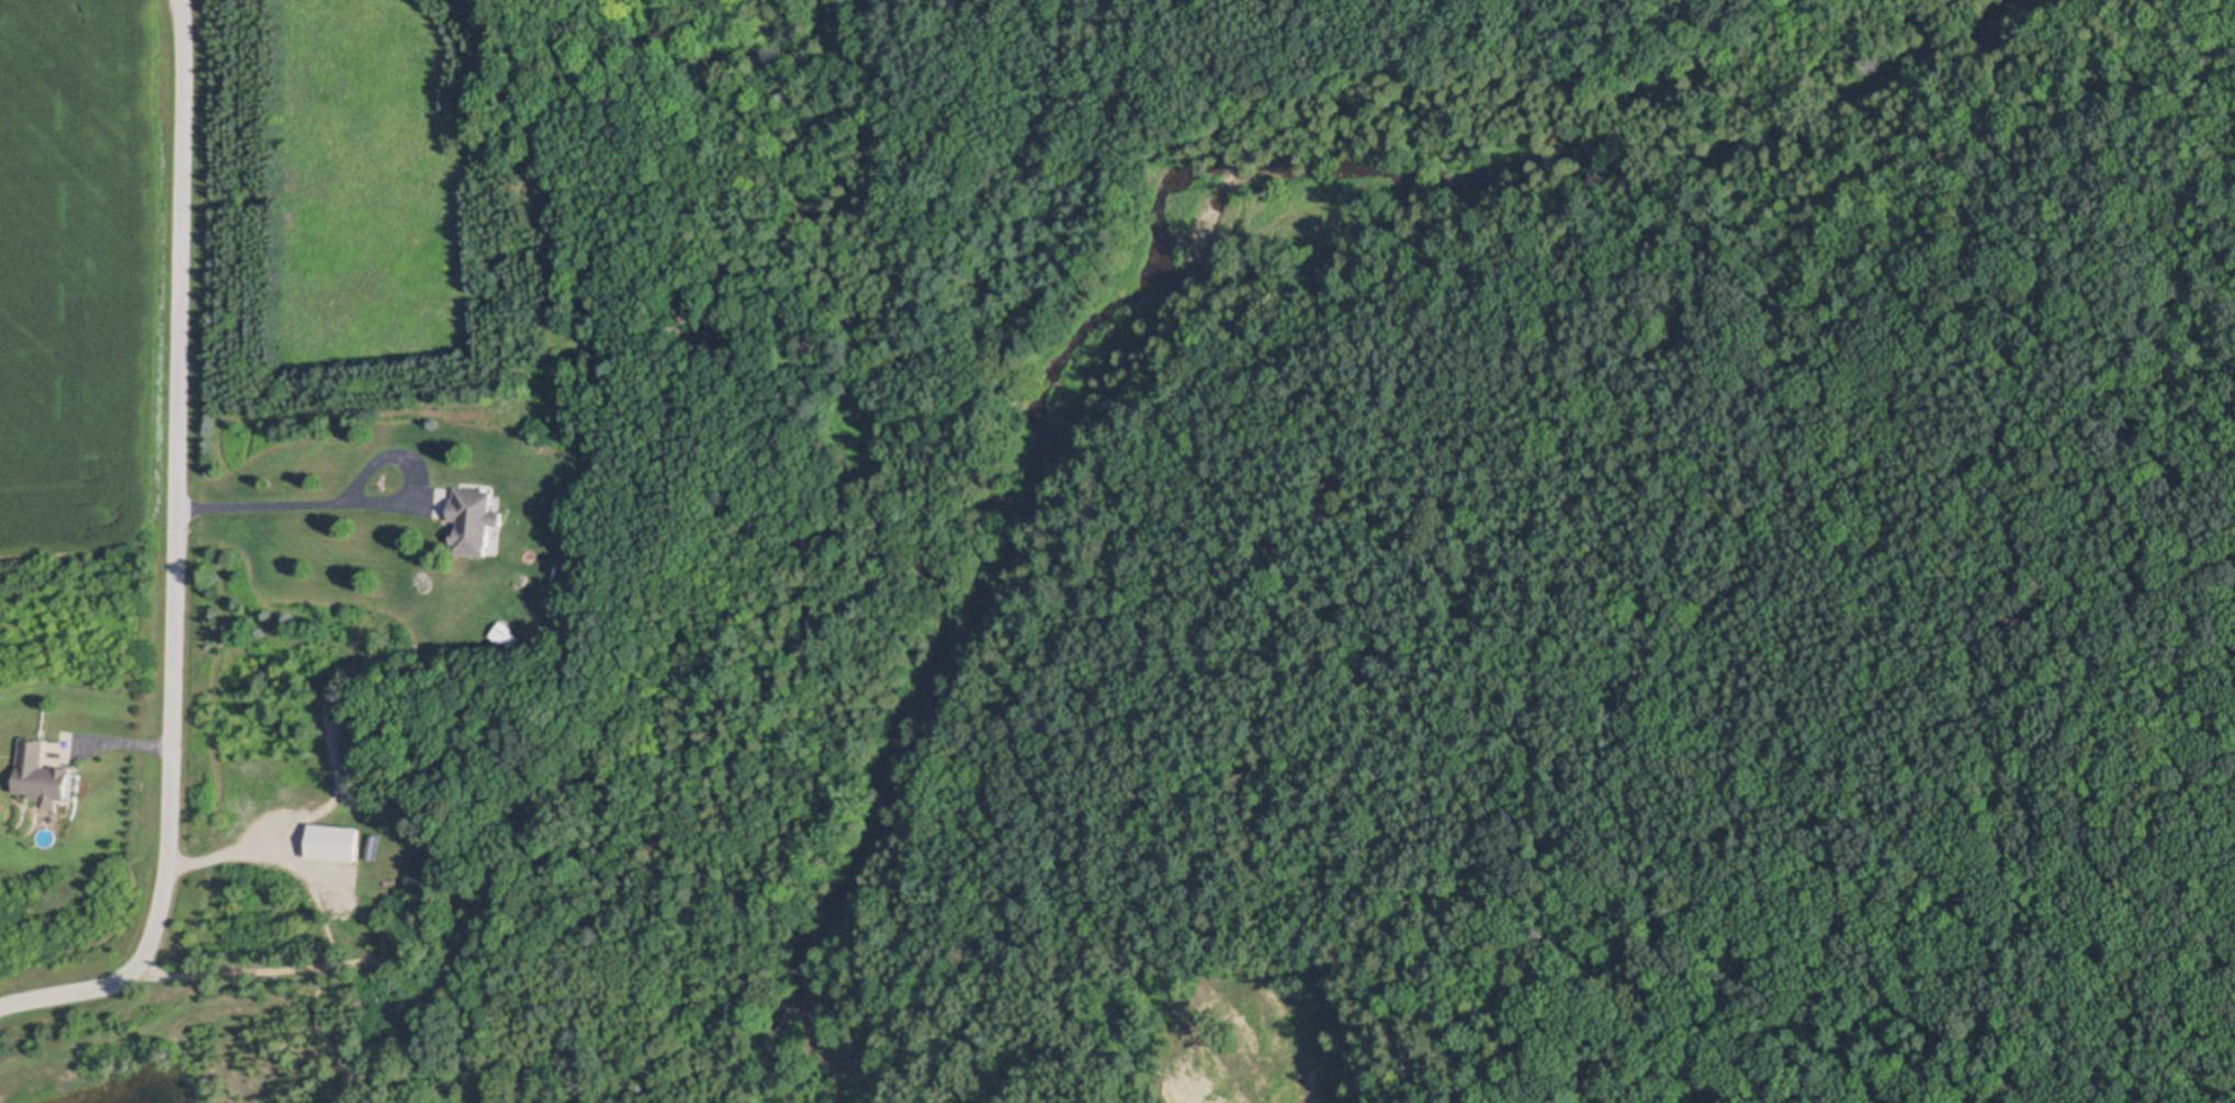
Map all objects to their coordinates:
river: (1169, 229)
road: (298, 499)
building: (474, 520)
road: (177, 559)
building: (507, 630)
building: (42, 773)
building: (336, 841)
road: (334, 934)

